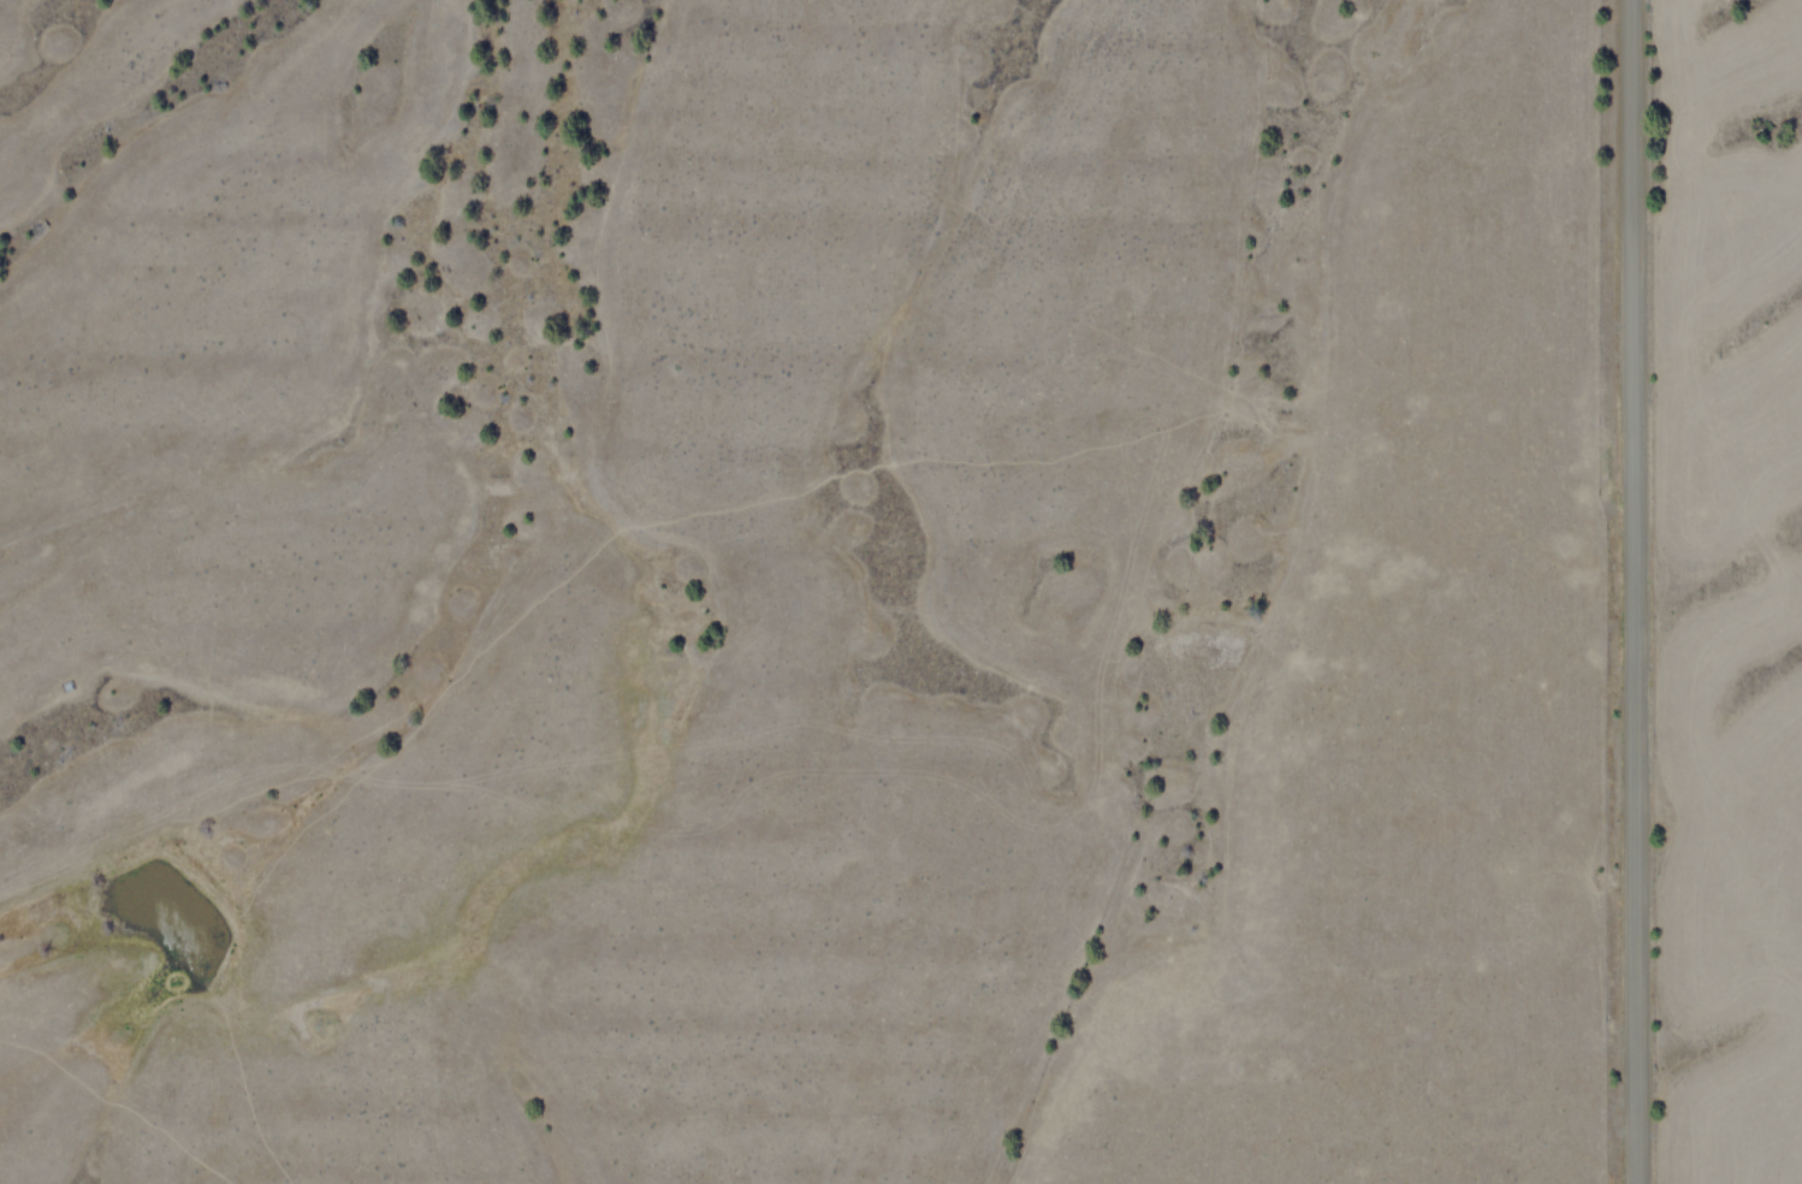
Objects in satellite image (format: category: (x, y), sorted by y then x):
road: (1642, 592)

